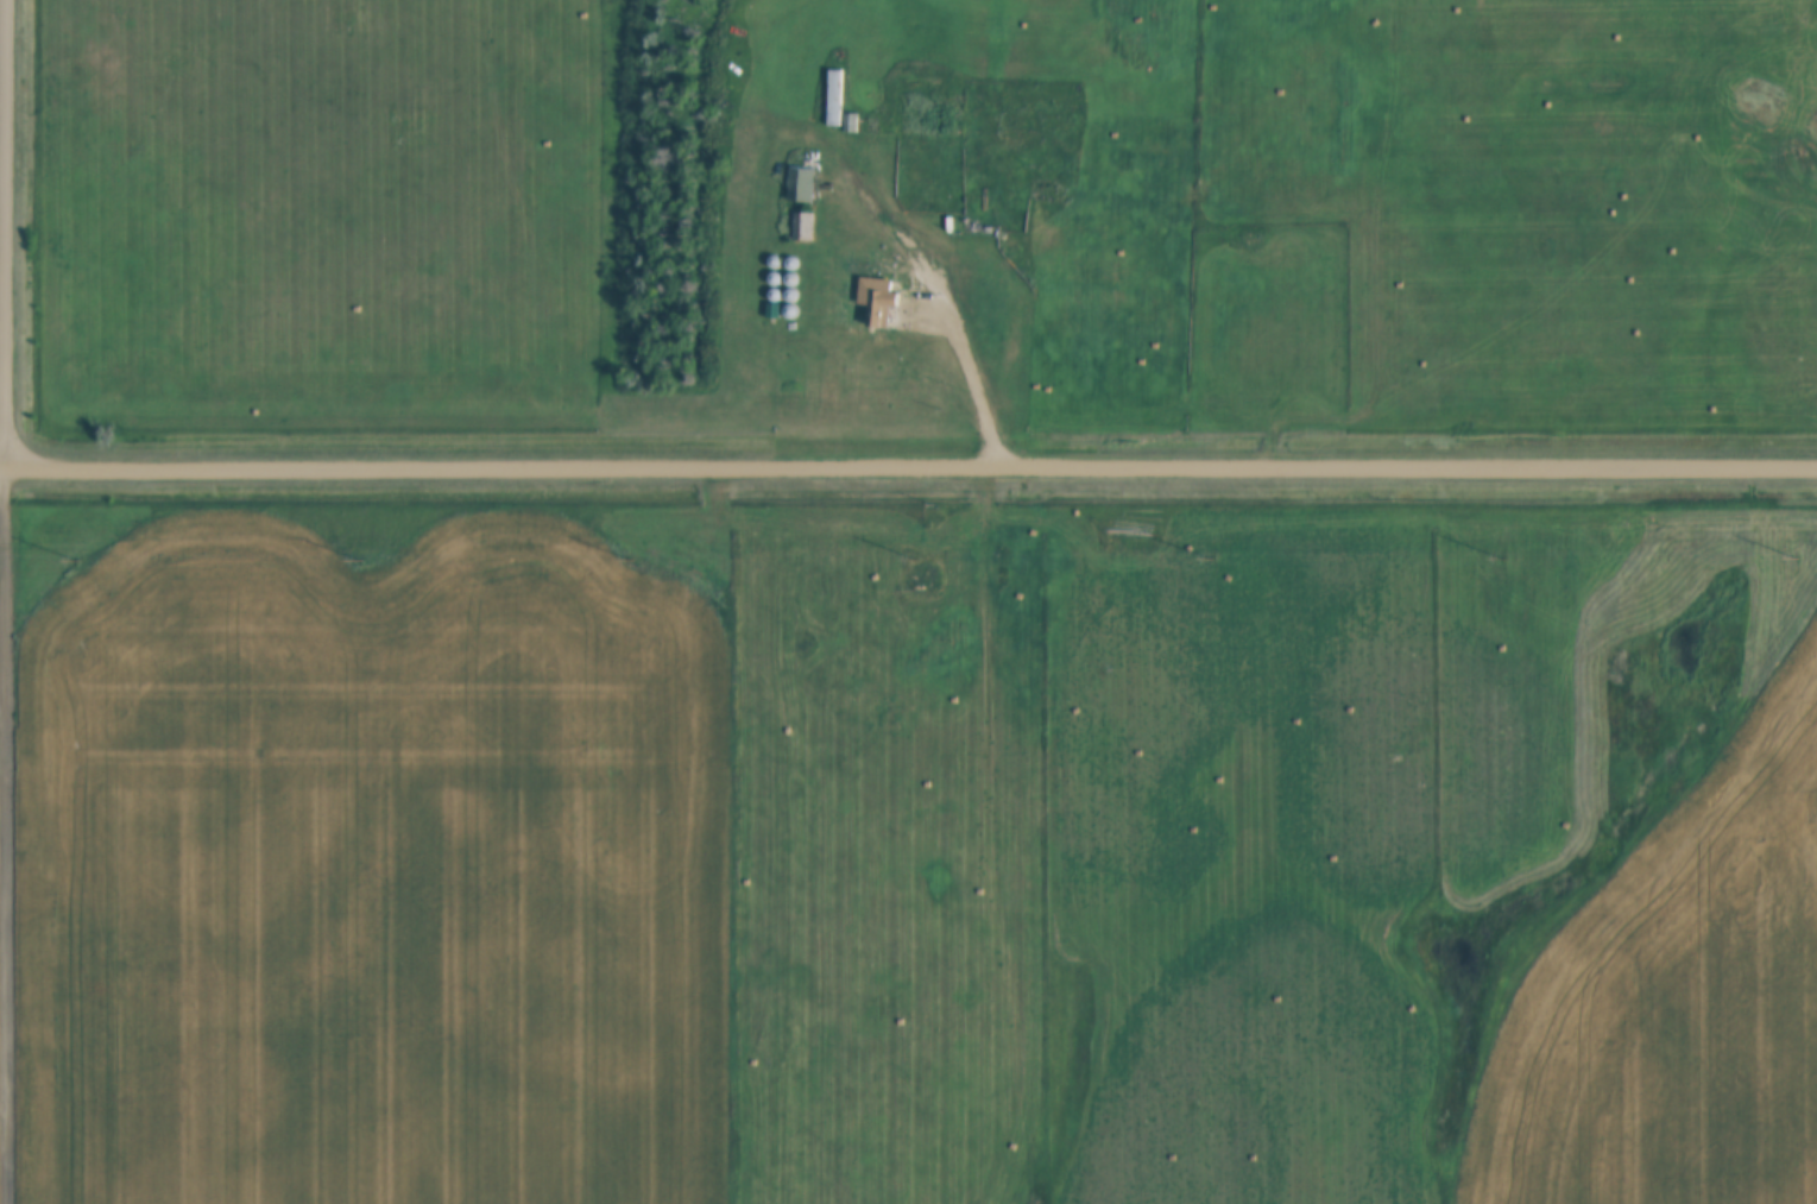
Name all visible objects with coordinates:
building: (926, 116)
building: (806, 183)
road: (6, 234)
road: (946, 302)
road: (908, 468)
road: (8, 836)

